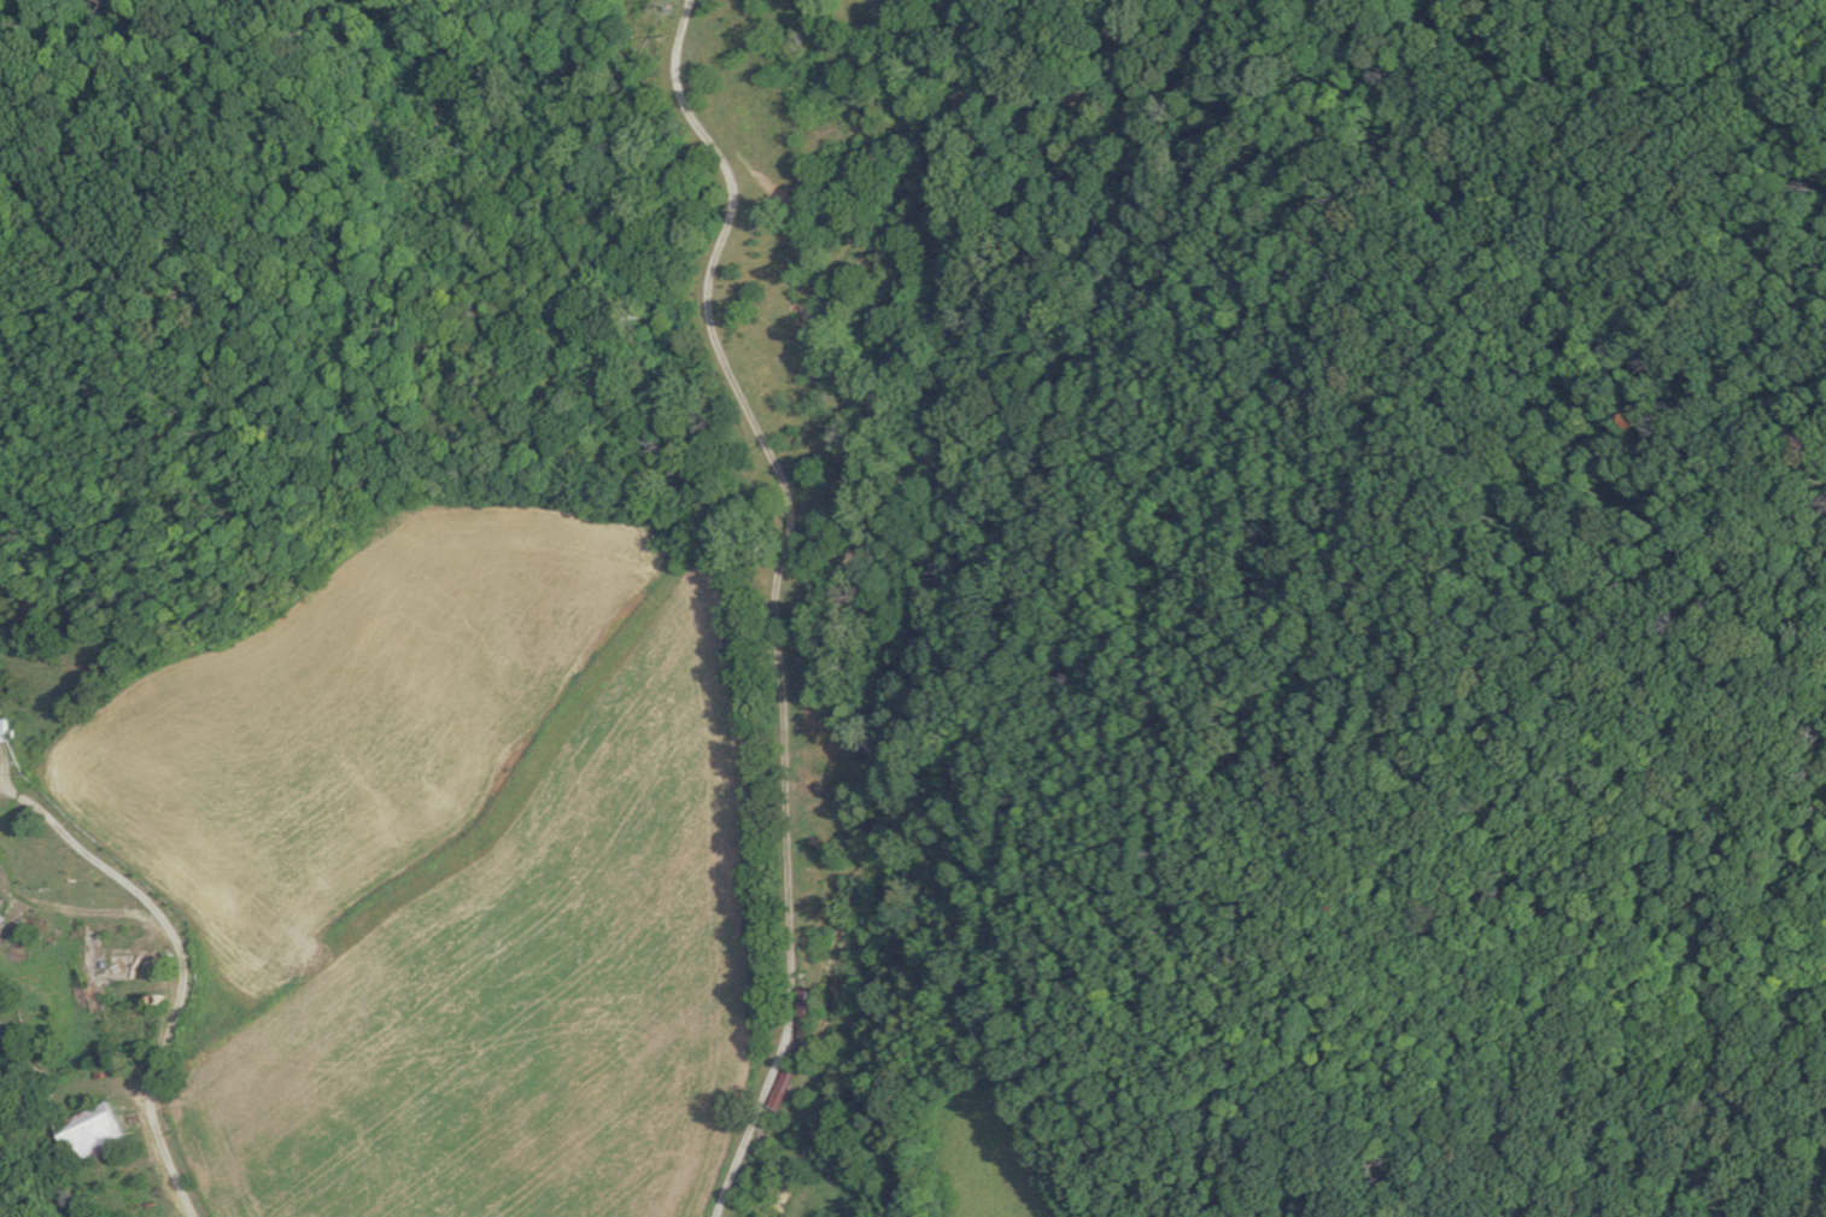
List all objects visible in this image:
road: (769, 593)
building: (1, 731)
road: (66, 908)
building: (0, 919)
building: (29, 923)
road: (176, 989)
building: (803, 1011)
building: (784, 1084)
building: (92, 1131)

